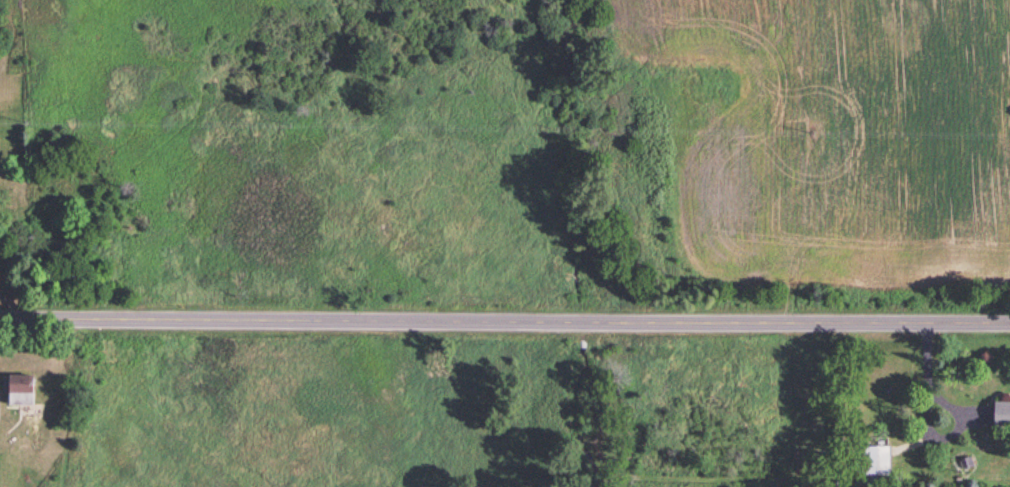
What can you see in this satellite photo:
crop: (843, 132)
road: (504, 320)
building: (20, 387)
building: (1002, 411)
road: (927, 420)
road: (911, 443)
building: (868, 460)
building: (966, 461)

